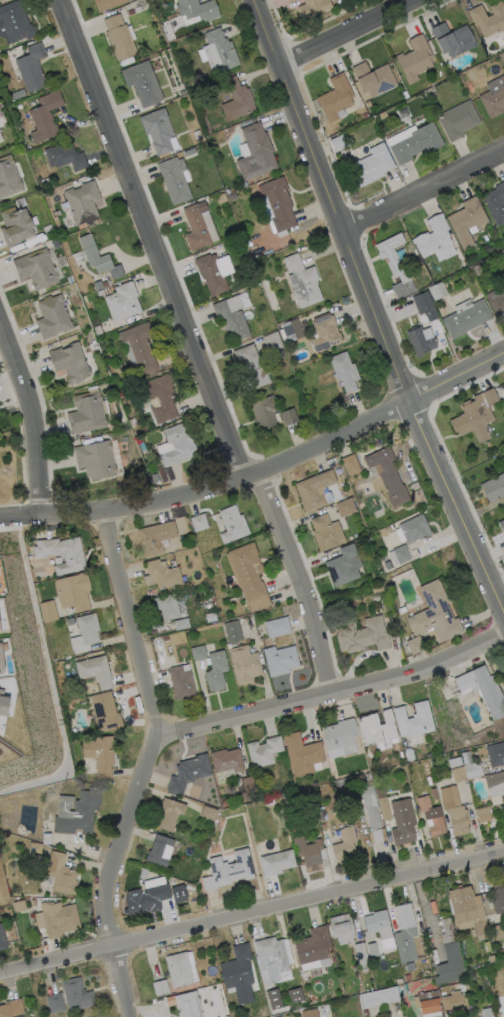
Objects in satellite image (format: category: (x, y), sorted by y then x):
building: (291, 1)
building: (107, 4)
building: (313, 7)
building: (341, 7)
building: (138, 9)
building: (198, 10)
building: (131, 12)
building: (488, 19)
building: (14, 22)
road: (344, 30)
building: (119, 37)
building: (453, 39)
building: (218, 49)
building: (415, 59)
building: (32, 68)
building: (374, 79)
building: (502, 79)
building: (143, 83)
building: (183, 93)
building: (19, 94)
building: (405, 94)
building: (336, 96)
building: (237, 99)
building: (493, 102)
building: (365, 115)
building: (45, 117)
building: (458, 119)
building: (157, 131)
building: (338, 143)
building: (416, 143)
building: (189, 152)
building: (256, 153)
building: (65, 157)
building: (370, 166)
building: (46, 173)
building: (8, 177)
building: (175, 179)
building: (47, 184)
building: (245, 184)
road: (424, 189)
building: (227, 191)
building: (221, 198)
building: (21, 202)
building: (83, 202)
building: (279, 203)
building: (496, 203)
building: (466, 222)
building: (16, 225)
building: (196, 228)
building: (433, 236)
road: (154, 238)
building: (55, 243)
building: (95, 255)
building: (393, 256)
building: (37, 269)
building: (477, 270)
building: (215, 272)
building: (423, 276)
building: (303, 281)
building: (105, 283)
building: (98, 285)
building: (437, 290)
building: (107, 291)
building: (101, 292)
building: (123, 302)
building: (498, 302)
building: (425, 305)
road: (373, 309)
building: (53, 317)
building: (467, 318)
building: (231, 320)
building: (292, 330)
building: (325, 332)
building: (272, 341)
building: (424, 341)
building: (140, 347)
building: (70, 362)
building: (251, 367)
building: (344, 371)
building: (161, 398)
building: (264, 412)
building: (87, 413)
road: (35, 414)
building: (289, 416)
building: (475, 416)
building: (123, 422)
building: (133, 422)
building: (142, 429)
building: (178, 444)
building: (96, 460)
building: (330, 462)
building: (351, 464)
road: (261, 469)
building: (388, 476)
building: (155, 477)
building: (494, 488)
building: (315, 490)
building: (345, 507)
building: (199, 522)
building: (233, 525)
building: (502, 525)
building: (390, 527)
building: (415, 529)
building: (326, 532)
building: (156, 538)
building: (62, 553)
building: (402, 554)
building: (385, 562)
building: (343, 566)
building: (387, 568)
building: (248, 572)
building: (163, 574)
road: (301, 580)
building: (376, 588)
building: (74, 591)
building: (209, 599)
building: (235, 599)
building: (209, 605)
building: (167, 606)
building: (48, 611)
building: (435, 613)
building: (211, 617)
building: (181, 624)
building: (277, 626)
building: (88, 628)
building: (233, 631)
building: (363, 635)
building: (165, 638)
building: (415, 645)
building: (199, 653)
building: (281, 660)
building: (245, 664)
building: (0, 665)
building: (216, 670)
building: (95, 671)
building: (60, 679)
building: (181, 682)
building: (484, 689)
road: (334, 692)
building: (2, 706)
building: (106, 712)
building: (414, 719)
building: (378, 728)
building: (341, 736)
building: (264, 751)
building: (302, 754)
building: (402, 754)
building: (496, 754)
building: (101, 755)
building: (408, 759)
building: (227, 760)
building: (455, 762)
road: (149, 765)
building: (467, 768)
building: (188, 772)
building: (368, 776)
building: (431, 780)
building: (248, 783)
building: (495, 784)
building: (223, 785)
building: (287, 790)
building: (47, 792)
building: (434, 793)
building: (298, 797)
building: (269, 801)
building: (424, 802)
building: (224, 803)
building: (384, 808)
building: (454, 808)
building: (501, 808)
building: (78, 812)
building: (170, 813)
building: (209, 813)
building: (483, 814)
building: (372, 815)
building: (402, 822)
building: (363, 824)
building: (437, 826)
building: (298, 830)
building: (47, 838)
building: (345, 845)
building: (159, 852)
building: (311, 853)
building: (277, 862)
building: (228, 869)
building: (61, 873)
building: (177, 892)
building: (191, 893)
building: (152, 898)
building: (498, 898)
building: (19, 905)
building: (467, 908)
road: (251, 911)
building: (59, 918)
building: (378, 924)
building: (342, 928)
building: (446, 930)
building: (405, 932)
building: (497, 932)
building: (2, 939)
building: (313, 946)
building: (487, 946)
building: (373, 950)
building: (499, 953)
building: (361, 954)
building: (491, 958)
building: (271, 959)
building: (333, 959)
building: (451, 965)
building: (179, 969)
building: (239, 973)
building: (473, 976)
building: (408, 977)
building: (160, 987)
building: (76, 994)
building: (294, 994)
building: (383, 996)
building: (454, 999)
building: (428, 1002)
building: (55, 1003)
building: (188, 1005)
building: (275, 1005)
building: (11, 1008)
building: (286, 1010)
building: (486, 1011)
building: (308, 1013)
building: (366, 1013)
road: (392, 1014)

